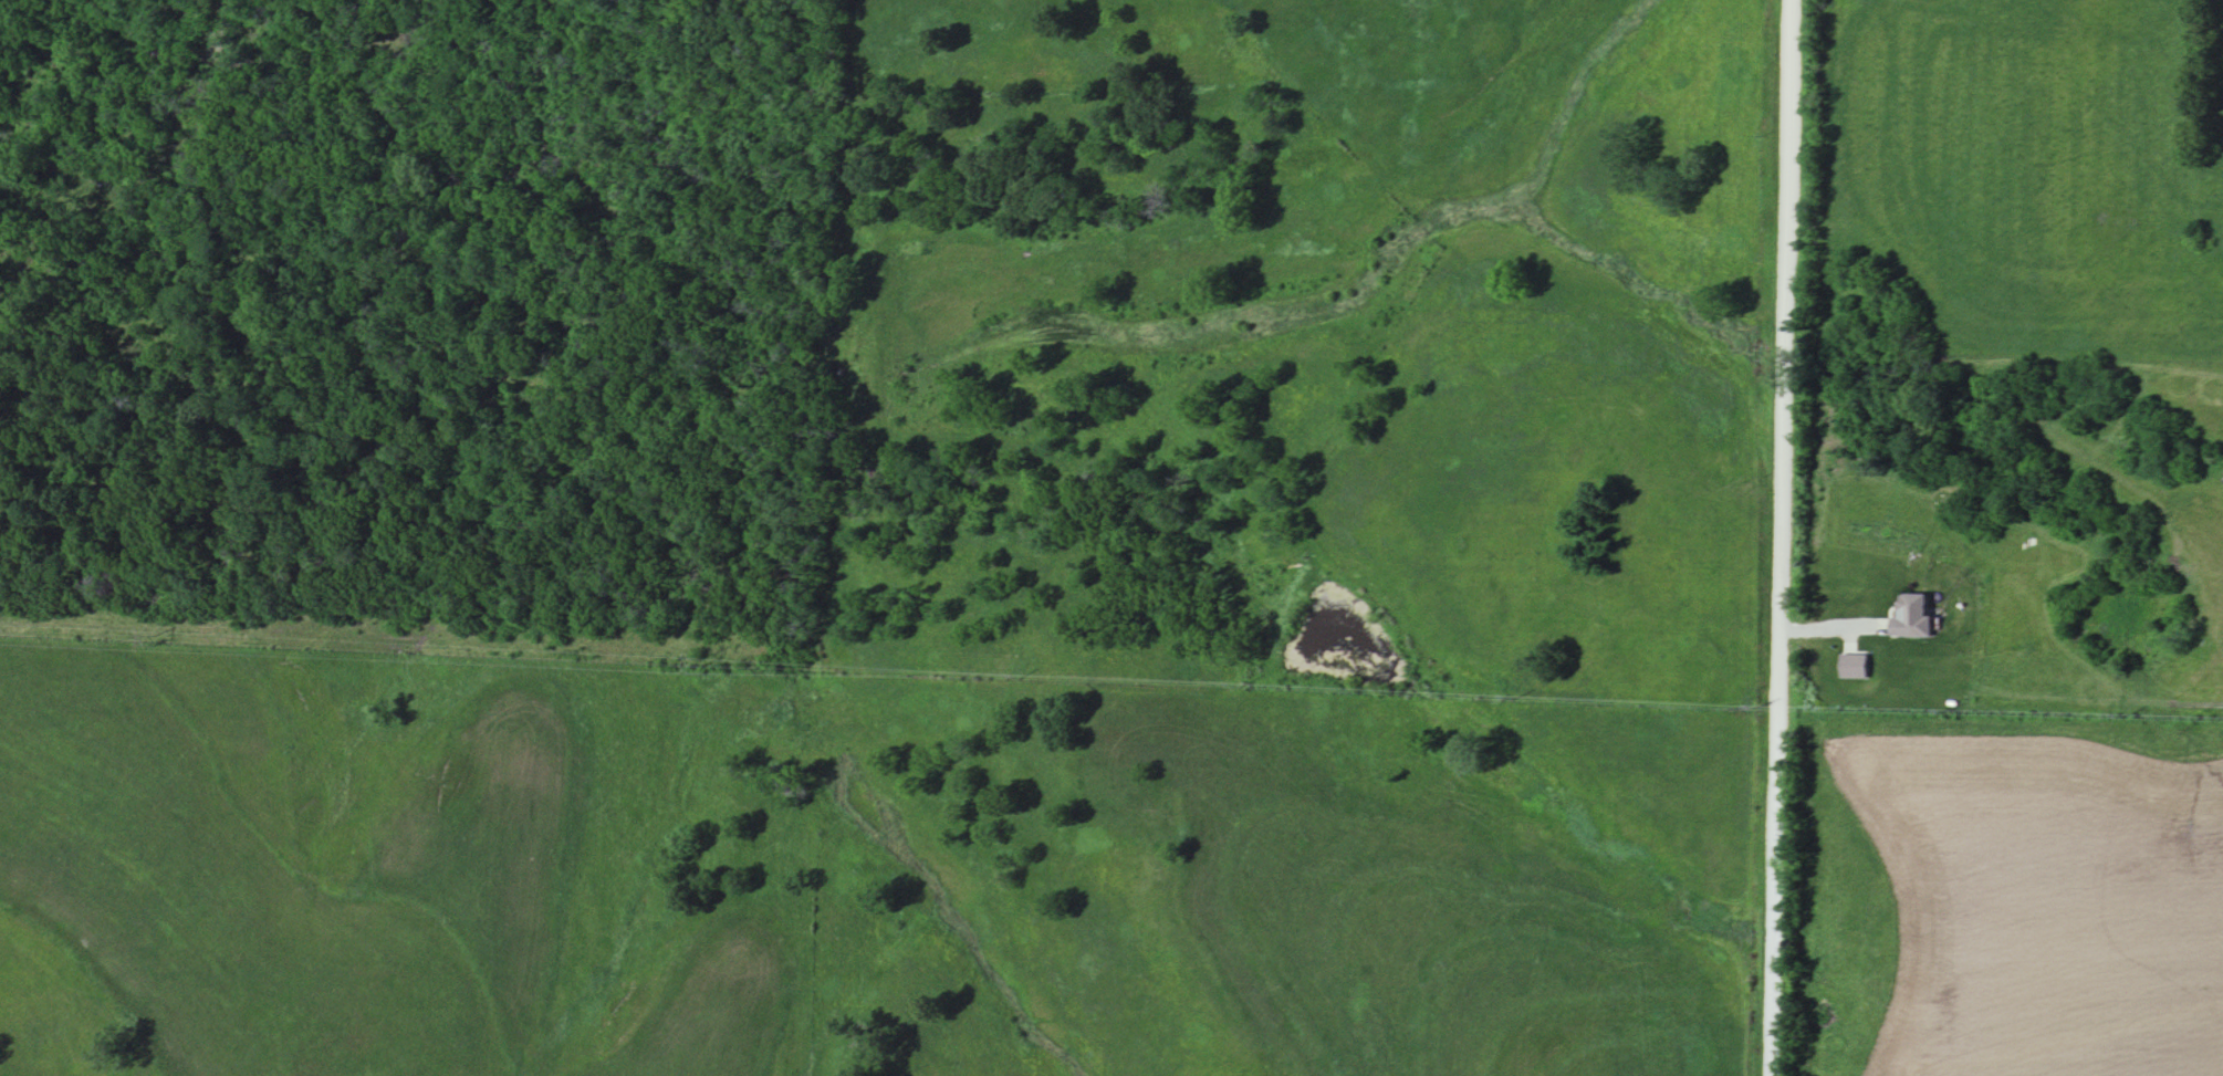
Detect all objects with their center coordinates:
road: (1783, 537)
crop: (2039, 890)

